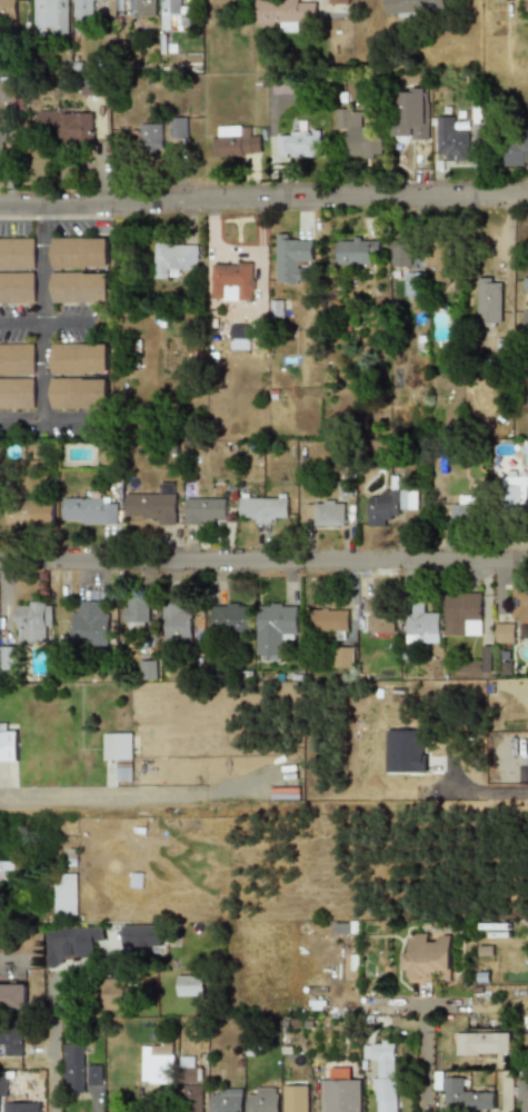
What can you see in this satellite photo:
building: (338, 2)
building: (83, 6)
building: (141, 7)
building: (8, 8)
building: (414, 8)
building: (170, 12)
building: (285, 12)
building: (51, 18)
building: (92, 87)
building: (4, 89)
building: (411, 115)
building: (67, 126)
building: (178, 127)
building: (358, 132)
building: (151, 137)
building: (450, 140)
building: (237, 141)
building: (298, 145)
building: (517, 146)
building: (1, 147)
road: (263, 202)
building: (358, 250)
building: (80, 252)
building: (401, 252)
building: (17, 254)
building: (290, 257)
building: (173, 258)
building: (439, 265)
building: (232, 280)
building: (415, 285)
building: (80, 287)
building: (18, 288)
building: (490, 301)
road: (41, 315)
building: (526, 325)
road: (58, 328)
building: (239, 336)
building: (17, 359)
building: (80, 359)
building: (17, 393)
building: (80, 393)
road: (59, 421)
building: (525, 453)
building: (515, 493)
building: (392, 504)
building: (152, 506)
building: (469, 507)
building: (205, 509)
building: (263, 509)
building: (90, 510)
building: (32, 513)
building: (325, 513)
road: (263, 563)
building: (136, 609)
building: (466, 612)
building: (231, 617)
building: (515, 617)
building: (377, 618)
building: (328, 620)
building: (36, 622)
building: (176, 622)
building: (421, 622)
building: (90, 625)
building: (275, 629)
building: (342, 656)
building: (484, 661)
building: (148, 669)
building: (3, 743)
building: (404, 751)
building: (119, 754)
road: (490, 781)
road: (97, 798)
building: (4, 870)
building: (66, 893)
building: (141, 935)
building: (71, 943)
building: (429, 957)
road: (8, 963)
building: (190, 985)
building: (113, 994)
building: (12, 996)
building: (10, 1039)
building: (482, 1043)
road: (51, 1049)
road: (425, 1051)
building: (157, 1063)
building: (73, 1066)
building: (93, 1074)
building: (385, 1075)
building: (2, 1083)
building: (191, 1085)
building: (520, 1092)
building: (340, 1095)
building: (467, 1095)
building: (297, 1099)
building: (226, 1100)
building: (262, 1101)
building: (19, 1106)

